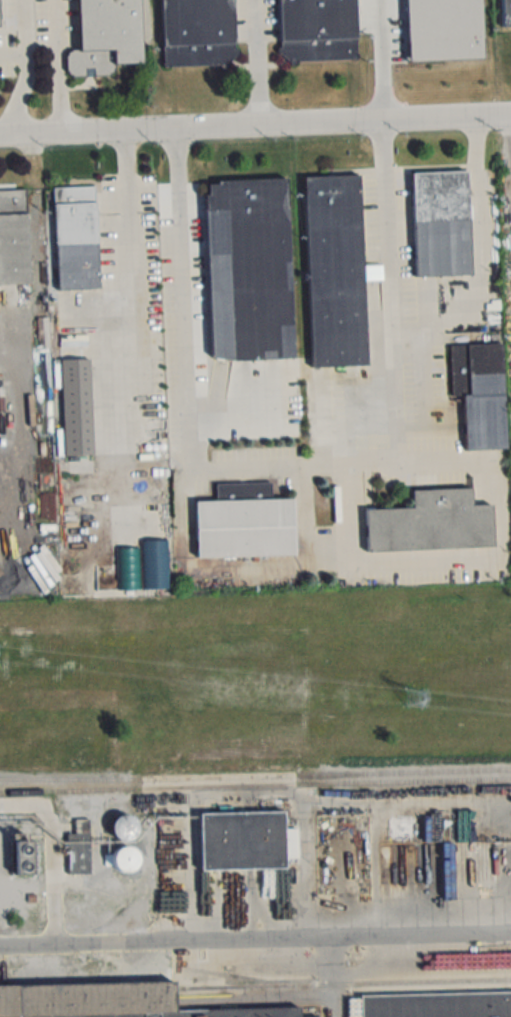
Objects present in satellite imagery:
building: (504, 13)
building: (0, 16)
building: (316, 30)
building: (196, 33)
building: (105, 36)
road: (12, 54)
road: (374, 60)
road: (258, 63)
road: (24, 67)
road: (62, 67)
road: (446, 118)
road: (190, 128)
building: (440, 222)
building: (75, 236)
building: (13, 237)
road: (125, 263)
building: (248, 268)
building: (334, 270)
road: (432, 286)
building: (479, 392)
building: (76, 406)
road: (206, 469)
building: (430, 522)
building: (244, 527)
road: (468, 562)
building: (154, 564)
power tower: (413, 696)
railway: (255, 774)
railway: (255, 784)
building: (122, 827)
building: (241, 840)
building: (22, 853)
building: (78, 856)
building: (123, 858)
road: (255, 934)
railway: (343, 984)
building: (421, 994)
building: (109, 1001)

